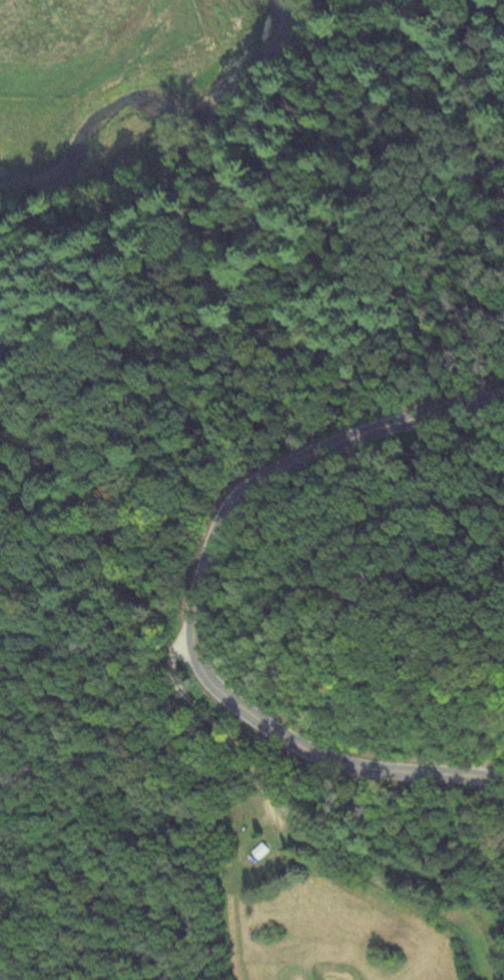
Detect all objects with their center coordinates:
ski resort: (115, 519)
road: (197, 601)
road: (215, 734)
building: (258, 851)

